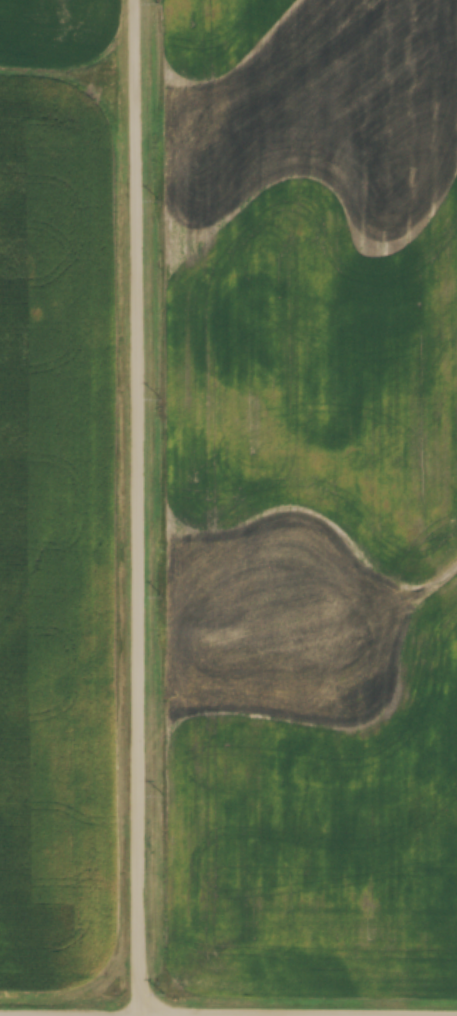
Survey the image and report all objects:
road: (137, 508)
road: (33, 1015)

